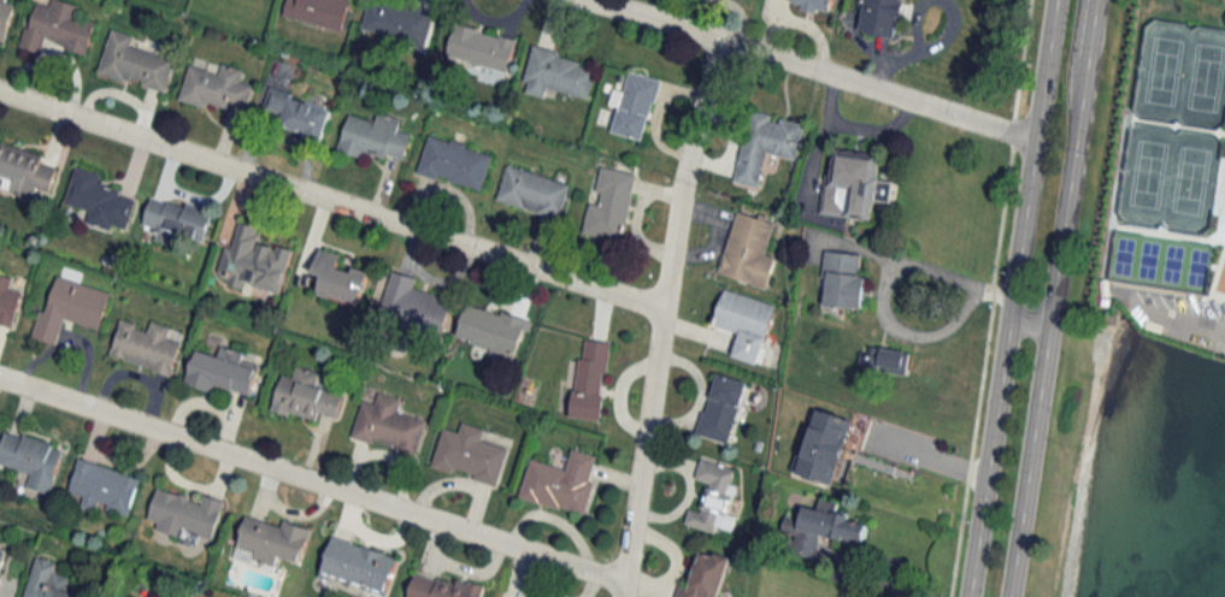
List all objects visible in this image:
building: (811, 4)
building: (318, 12)
building: (5, 16)
building: (881, 17)
building: (397, 23)
road: (1050, 25)
building: (58, 26)
road: (1090, 28)
building: (481, 47)
road: (1017, 58)
building: (135, 64)
road: (815, 66)
building: (558, 75)
building: (218, 88)
building: (635, 105)
building: (299, 113)
park: (1152, 117)
park: (1190, 123)
road: (1008, 130)
park: (1219, 132)
building: (375, 136)
building: (766, 144)
building: (454, 162)
building: (24, 170)
building: (854, 184)
building: (534, 191)
road: (330, 196)
building: (99, 200)
building: (611, 205)
building: (176, 220)
park: (1137, 227)
park: (1174, 232)
park: (1212, 240)
building: (748, 250)
building: (254, 260)
road: (907, 264)
building: (338, 279)
building: (842, 280)
building: (8, 301)
building: (71, 307)
building: (413, 307)
road: (659, 314)
road: (1186, 321)
building: (746, 323)
road: (1006, 323)
road: (1026, 325)
road: (1047, 326)
building: (493, 330)
building: (145, 347)
building: (883, 359)
road: (980, 371)
building: (222, 372)
building: (591, 379)
building: (306, 396)
building: (722, 408)
building: (388, 425)
building: (823, 445)
building: (470, 454)
building: (31, 459)
road: (311, 481)
building: (561, 483)
building: (104, 487)
building: (713, 497)
building: (184, 515)
building: (820, 528)
building: (271, 542)
building: (1, 558)
building: (358, 565)
building: (706, 577)
building: (47, 580)
building: (440, 587)

